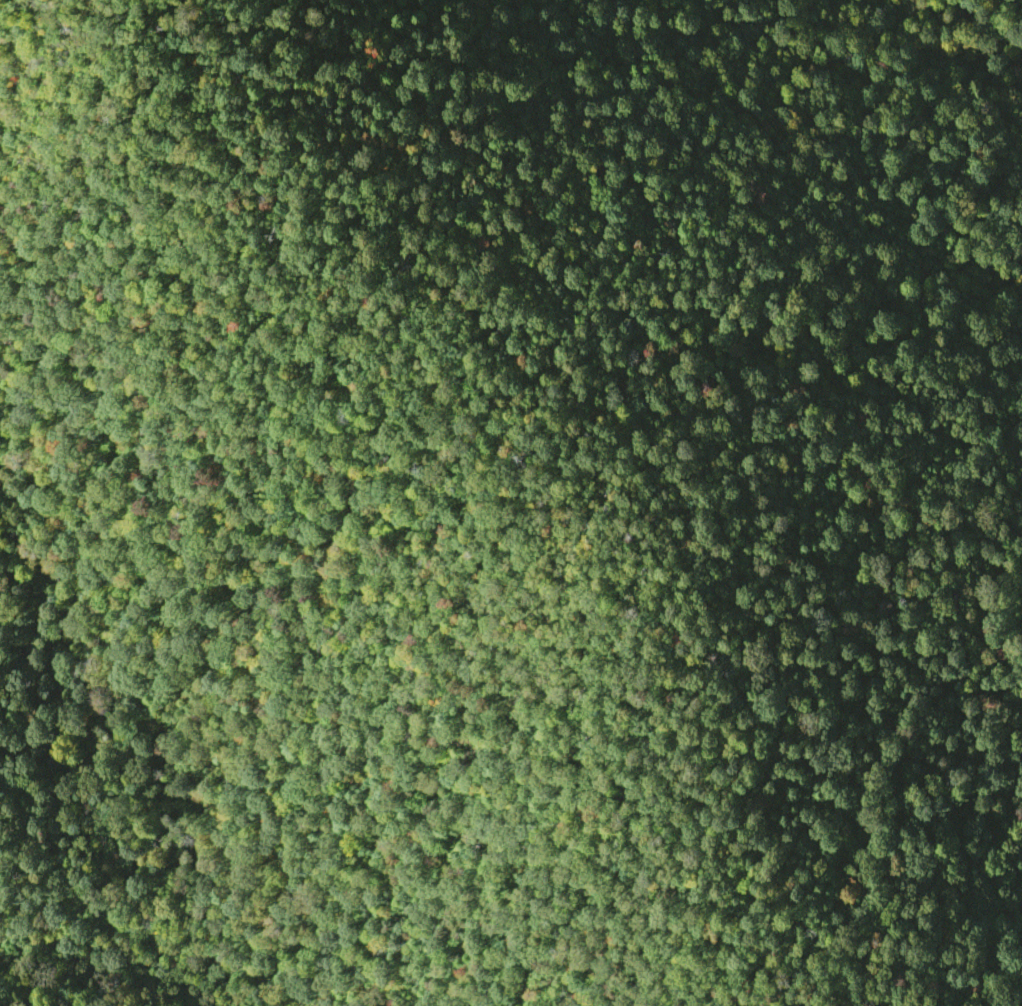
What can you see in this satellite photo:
road: (843, 466)
road: (228, 701)

